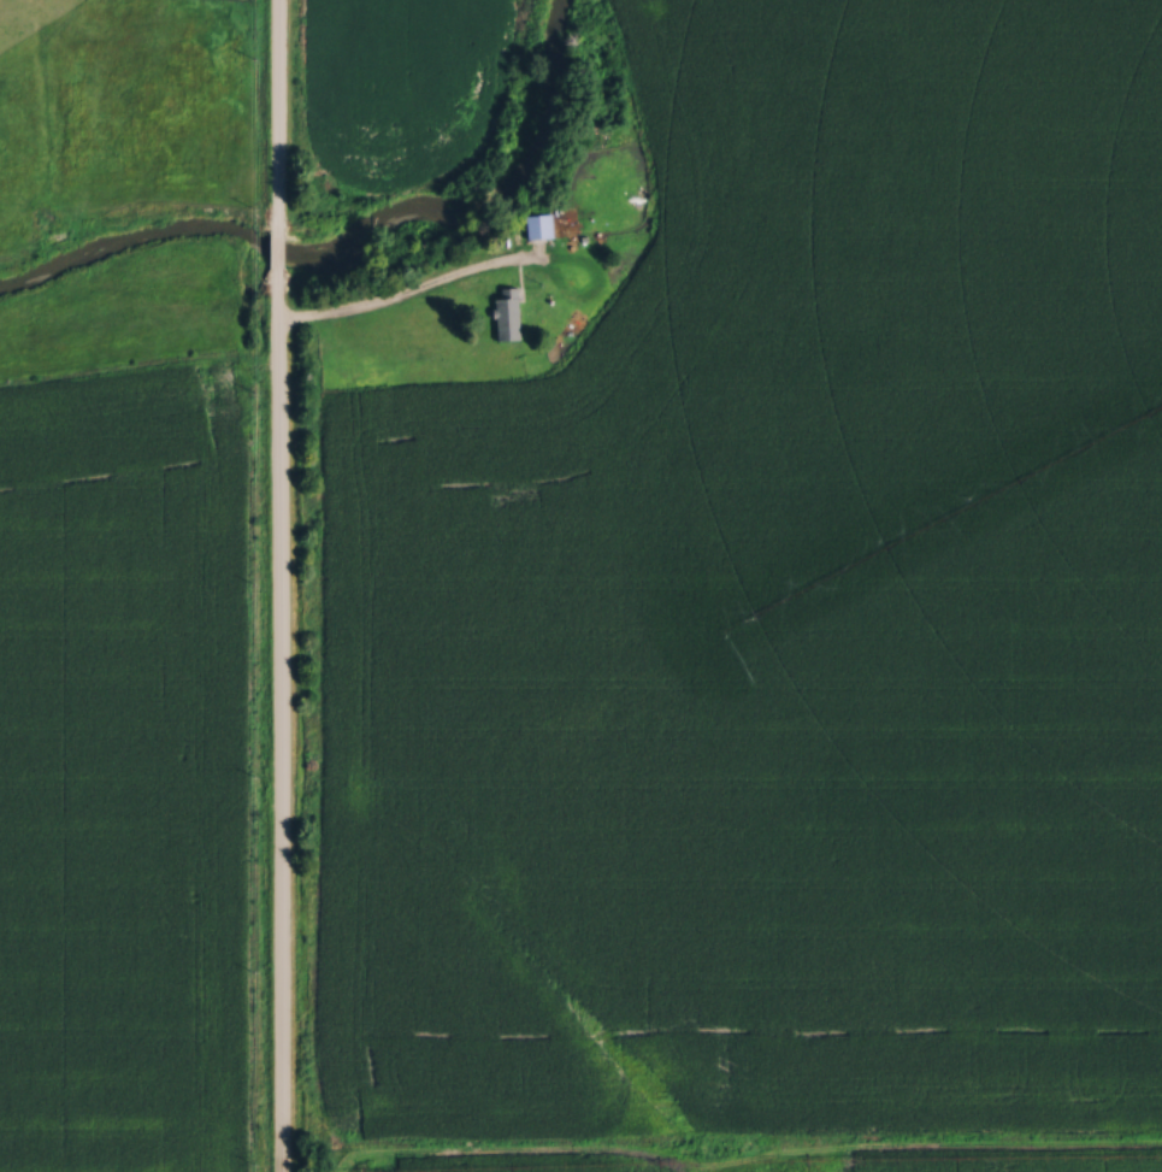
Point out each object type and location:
road: (279, 117)
building: (541, 225)
river: (349, 238)
road: (277, 251)
road: (401, 291)
building: (508, 313)
road: (283, 718)
road: (748, 1161)
crop: (530, 1164)
crop: (996, 1165)

